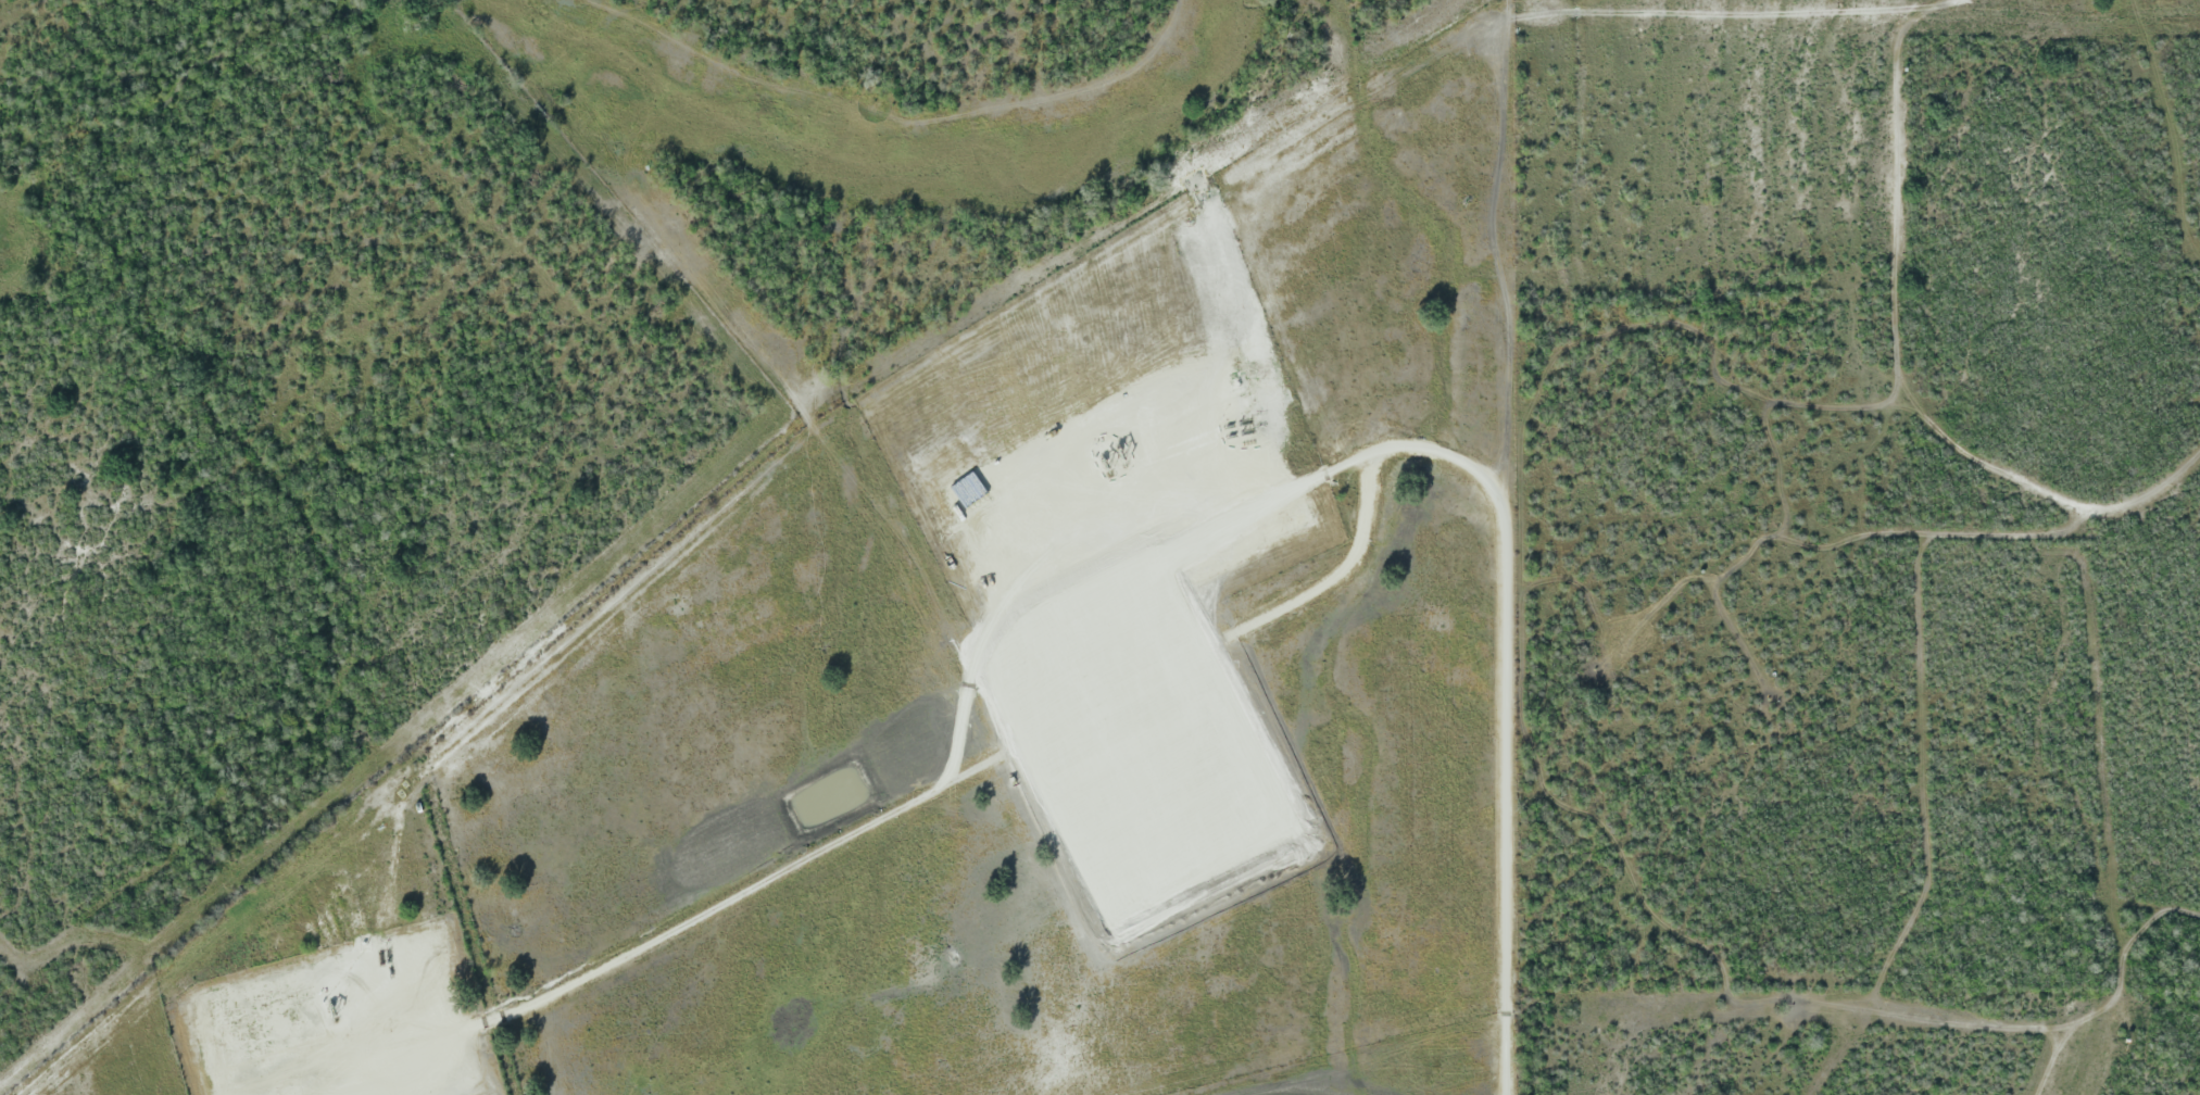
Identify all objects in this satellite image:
river: (417, 3)
river: (124, 77)
river: (928, 174)
road: (1498, 487)
road: (868, 826)

